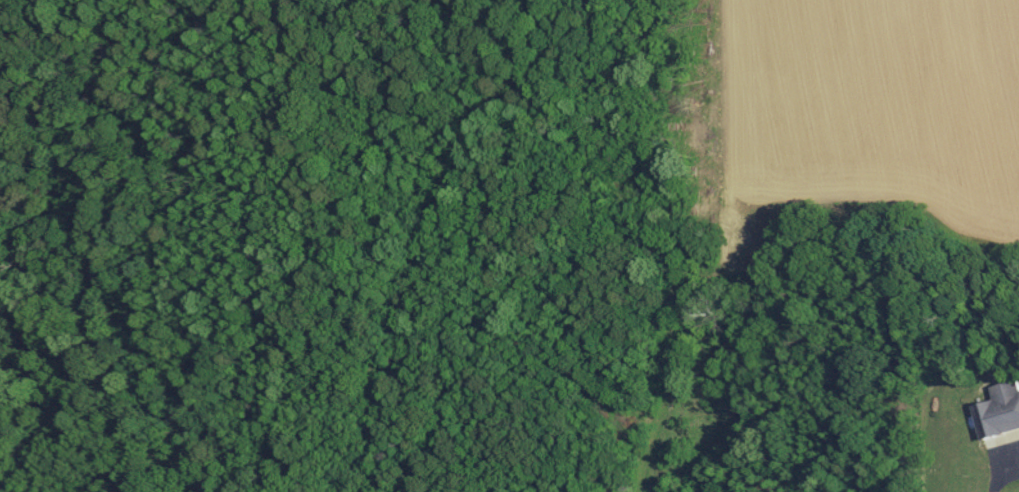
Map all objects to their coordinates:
building: (1001, 410)
road: (995, 472)

